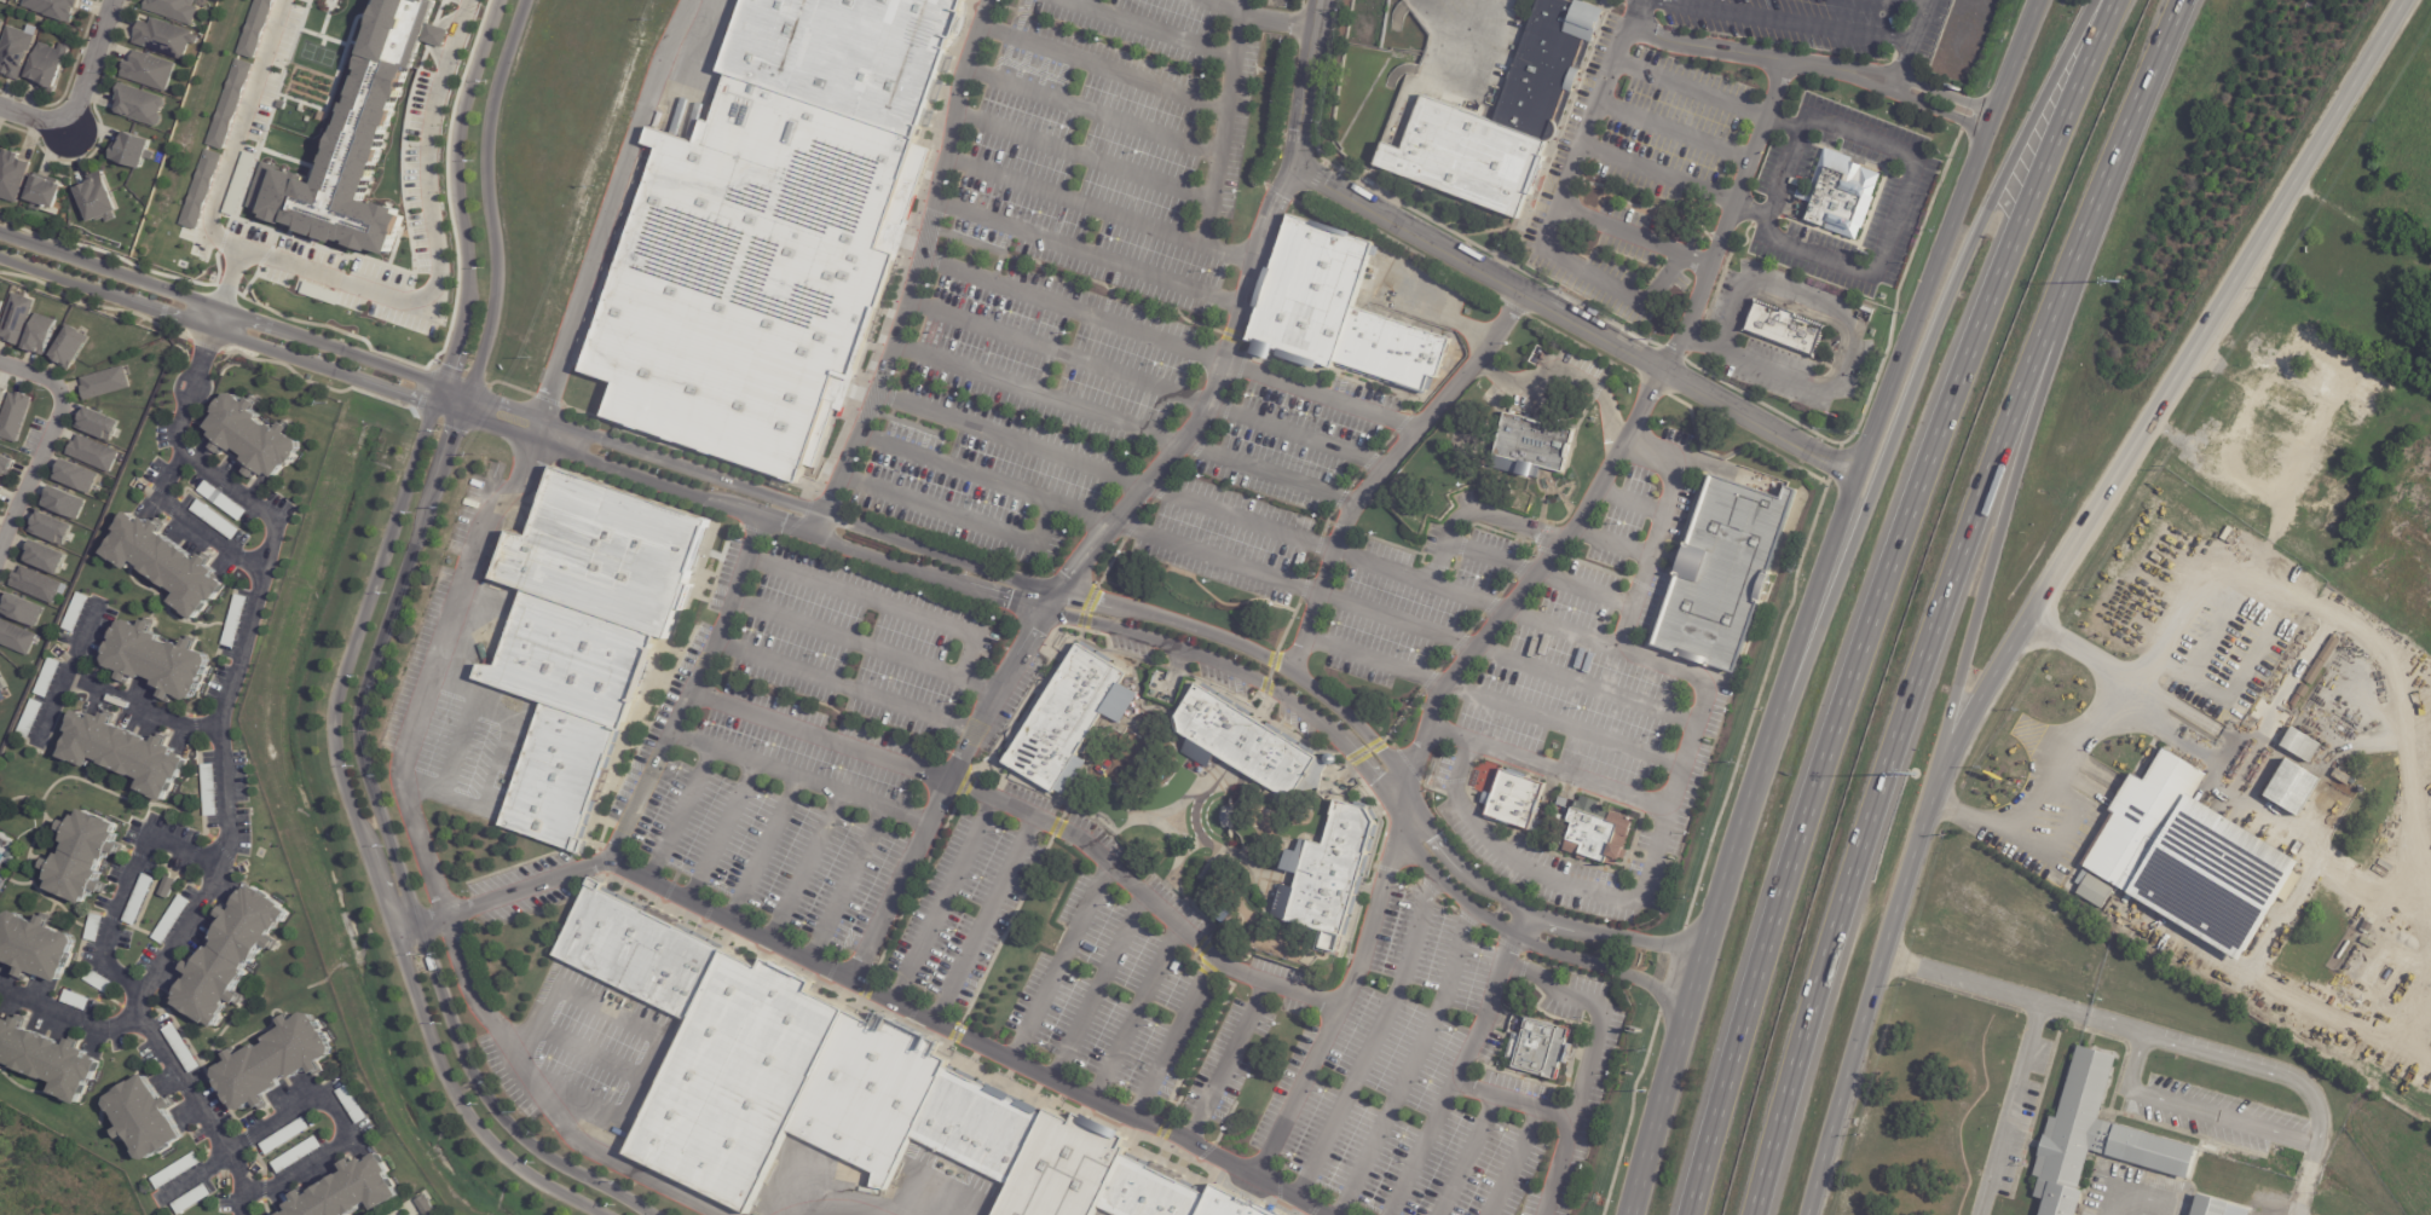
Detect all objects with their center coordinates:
road: (1921, 2)
road: (1433, 6)
building: (53, 8)
building: (172, 8)
road: (1636, 13)
road: (1258, 16)
building: (0, 22)
road: (1786, 24)
parking lot: (1803, 24)
building: (255, 28)
road: (1147, 29)
building: (166, 37)
road: (1917, 47)
building: (16, 51)
building: (843, 54)
building: (48, 65)
road: (1102, 68)
building: (151, 71)
road: (1890, 76)
road: (1307, 82)
road: (1692, 86)
road: (1887, 91)
road: (80, 99)
building: (229, 104)
building: (138, 105)
road: (1092, 111)
building: (1503, 118)
road: (1594, 118)
parking lot: (1680, 127)
road: (1675, 131)
road: (237, 134)
building: (356, 143)
road: (1220, 146)
building: (132, 150)
road: (1084, 156)
building: (246, 166)
road: (1788, 170)
road: (1659, 173)
building: (13, 177)
road: (1284, 179)
building: (200, 190)
building: (47, 193)
building: (100, 198)
road: (1075, 201)
road: (456, 202)
building: (1846, 202)
road: (491, 207)
road: (374, 212)
road: (1266, 213)
road: (1730, 218)
road: (1894, 219)
road: (1394, 220)
road: (1944, 236)
road: (435, 247)
road: (1087, 254)
parking lot: (1619, 261)
parking lot: (1061, 266)
road: (917, 273)
building: (751, 277)
road: (229, 278)
road: (1598, 278)
building: (318, 293)
road: (1537, 300)
building: (0, 303)
road: (1431, 309)
road: (1073, 312)
building: (1335, 313)
building: (15, 318)
road: (215, 319)
building: (1782, 329)
building: (39, 334)
road: (1846, 341)
building: (69, 347)
road: (1058, 353)
building: (2320, 354)
road: (197, 374)
road: (1563, 374)
building: (104, 383)
road: (2166, 389)
road: (1907, 392)
road: (1038, 393)
building: (1, 395)
road: (1320, 397)
road: (1719, 400)
building: (13, 416)
building: (97, 424)
road: (1298, 434)
parking lot: (31, 436)
road: (48, 436)
building: (258, 438)
road: (1010, 440)
building: (1532, 446)
building: (93, 453)
road: (1675, 462)
road: (2016, 462)
road: (526, 464)
building: (5, 465)
road: (1382, 467)
road: (1271, 471)
building: (75, 476)
road: (984, 479)
building: (0, 486)
parking lot: (1261, 487)
road: (1161, 492)
building: (224, 502)
building: (63, 503)
building: (2334, 503)
road: (1656, 508)
road: (958, 514)
road: (1478, 514)
building: (2253, 516)
road: (184, 521)
building: (218, 521)
building: (50, 528)
road: (917, 544)
road: (1327, 548)
building: (45, 557)
road: (1313, 557)
road: (1489, 559)
road: (897, 563)
building: (171, 566)
building: (1721, 574)
building: (35, 584)
road: (1293, 586)
road: (1517, 590)
road: (1638, 591)
road: (1214, 598)
road: (1876, 598)
road: (1940, 598)
road: (1050, 602)
road: (880, 603)
building: (22, 611)
building: (77, 614)
road: (2334, 615)
building: (237, 623)
road: (1561, 625)
road: (1802, 635)
building: (16, 637)
building: (581, 637)
road: (861, 644)
building: (2328, 649)
building: (160, 661)
building: (2314, 671)
road: (64, 673)
building: (48, 679)
building: (2, 683)
road: (841, 685)
road: (1584, 685)
building: (2303, 690)
building: (2296, 700)
road: (1494, 701)
road: (225, 702)
road: (138, 711)
road: (2112, 712)
building: (1063, 717)
building: (31, 721)
road: (818, 735)
road: (460, 737)
parking lot: (810, 740)
building: (1241, 742)
building: (2299, 744)
building: (128, 757)
road: (1571, 775)
road: (797, 776)
building: (2342, 776)
building: (2289, 787)
building: (210, 792)
road: (639, 793)
building: (1519, 803)
building: (1560, 803)
road: (1173, 811)
road: (680, 815)
building: (1557, 818)
road: (1988, 827)
building: (1594, 832)
road: (722, 833)
road: (364, 846)
road: (763, 850)
road: (1179, 852)
road: (391, 854)
building: (2184, 857)
building: (86, 860)
road: (804, 868)
road: (1904, 870)
building: (1332, 874)
road: (1651, 878)
road: (847, 885)
road: (125, 886)
building: (169, 890)
building: (2092, 890)
building: (2323, 893)
road: (1145, 896)
building: (140, 901)
road: (941, 903)
parking lot: (960, 914)
building: (173, 921)
road: (983, 922)
building: (2366, 925)
building: (94, 930)
building: (36, 949)
building: (235, 955)
road: (1058, 965)
building: (99, 982)
road: (1097, 989)
road: (2010, 995)
road: (2409, 997)
building: (77, 1002)
road: (1690, 1003)
road: (1342, 1005)
road: (1596, 1012)
road: (1136, 1016)
road: (1173, 1038)
road: (1373, 1038)
road: (965, 1043)
building: (1537, 1045)
building: (181, 1048)
road: (158, 1051)
building: (50, 1058)
building: (277, 1063)
road: (1226, 1063)
road: (1411, 1065)
road: (1463, 1065)
road: (2269, 1074)
building: (839, 1087)
road: (1847, 1087)
road: (316, 1095)
road: (542, 1098)
building: (353, 1105)
road: (2006, 1109)
road: (2192, 1111)
road: (1559, 1116)
building: (148, 1118)
building: (287, 1136)
building: (2091, 1138)
building: (299, 1156)
road: (1472, 1156)
road: (1518, 1162)
building: (178, 1170)
building: (354, 1192)
road: (2141, 1196)
road: (2299, 1197)
building: (192, 1199)
building: (426, 1203)
building: (2206, 1207)
road: (858, 1211)

